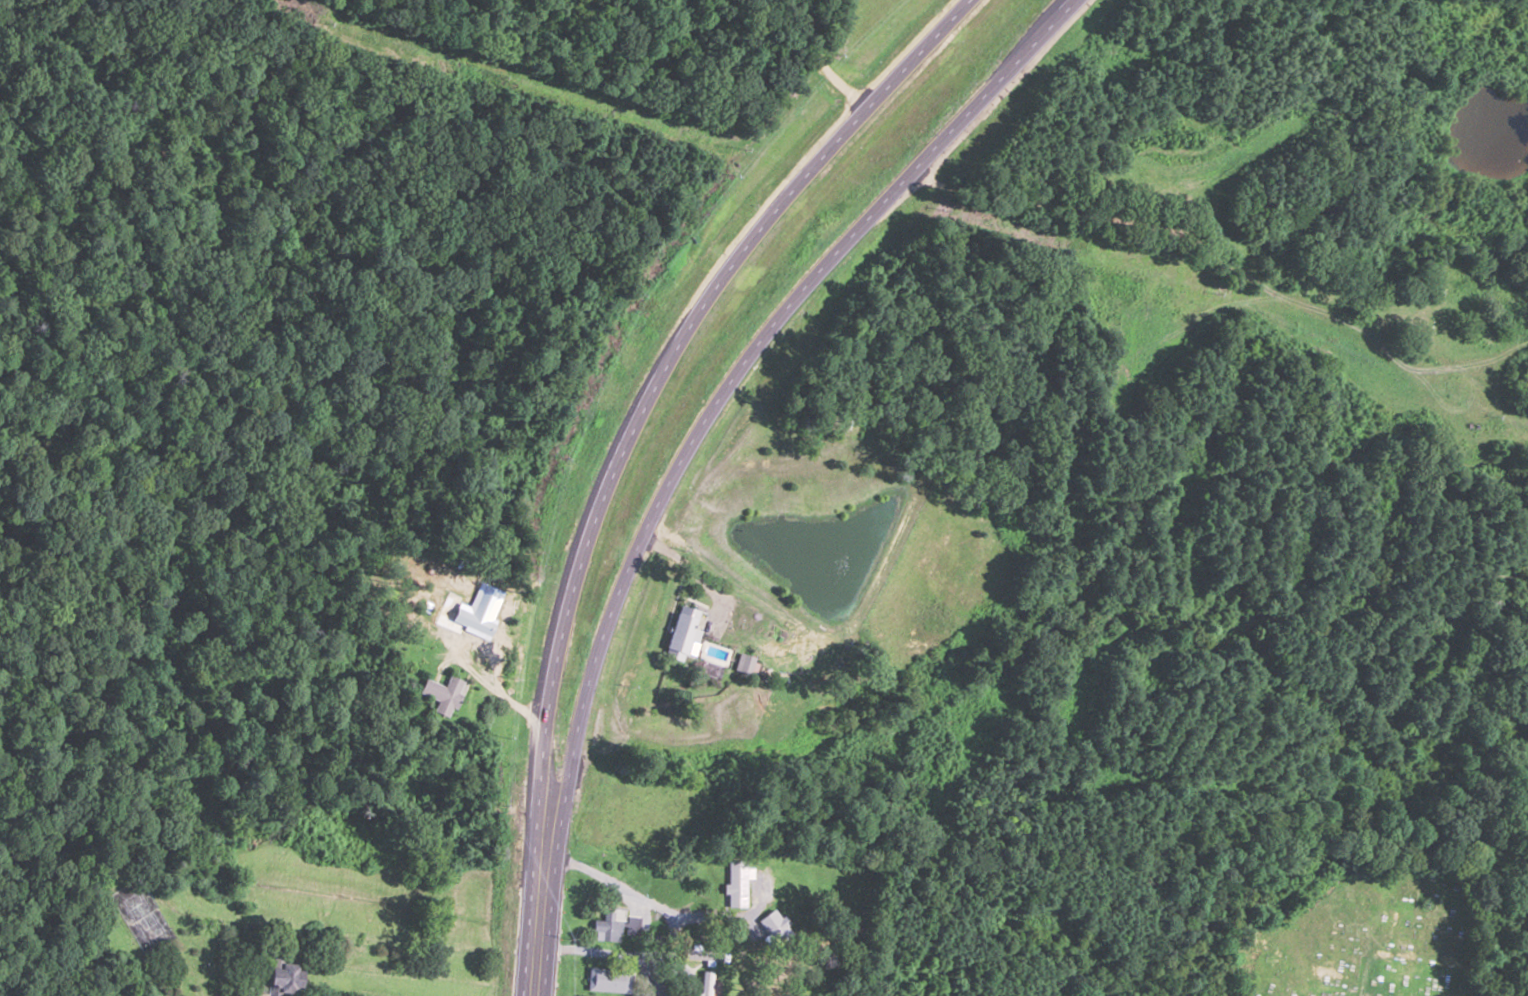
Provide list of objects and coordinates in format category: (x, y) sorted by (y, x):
road: (1188, 150)
road: (705, 417)
road: (635, 419)
building: (448, 601)
building: (680, 633)
building: (778, 649)
building: (742, 662)
building: (441, 693)
building: (614, 927)
road: (627, 950)
road: (534, 969)
building: (285, 978)
building: (609, 979)

